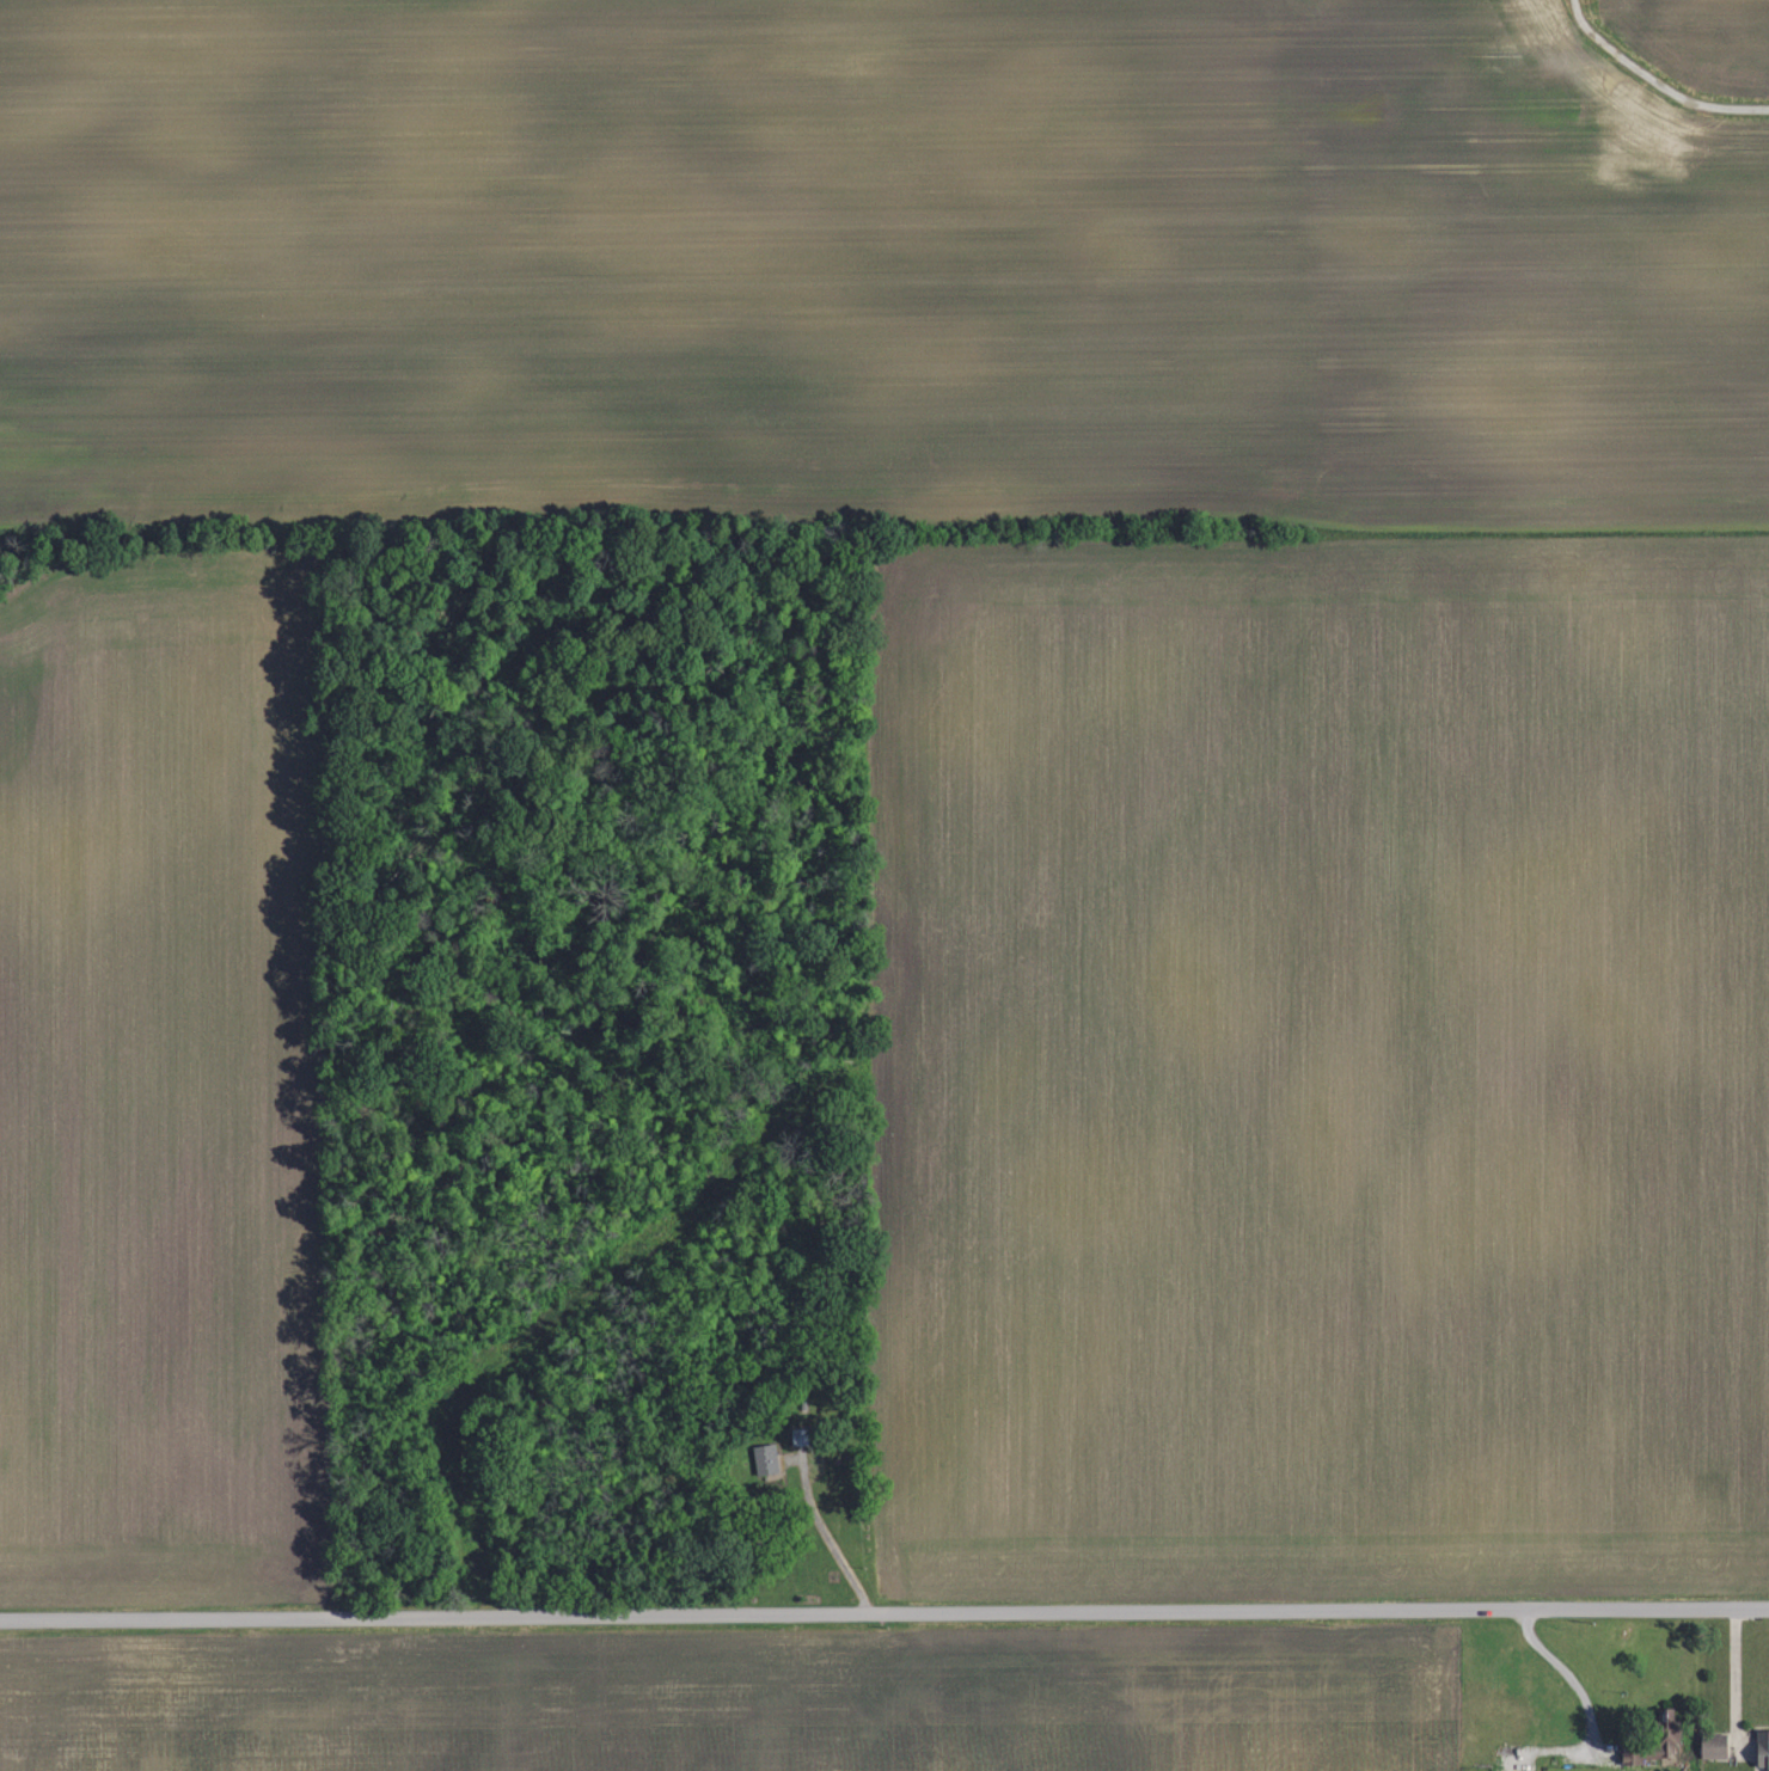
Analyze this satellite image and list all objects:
building: (766, 1460)
road: (884, 1612)
building: (1671, 1723)

